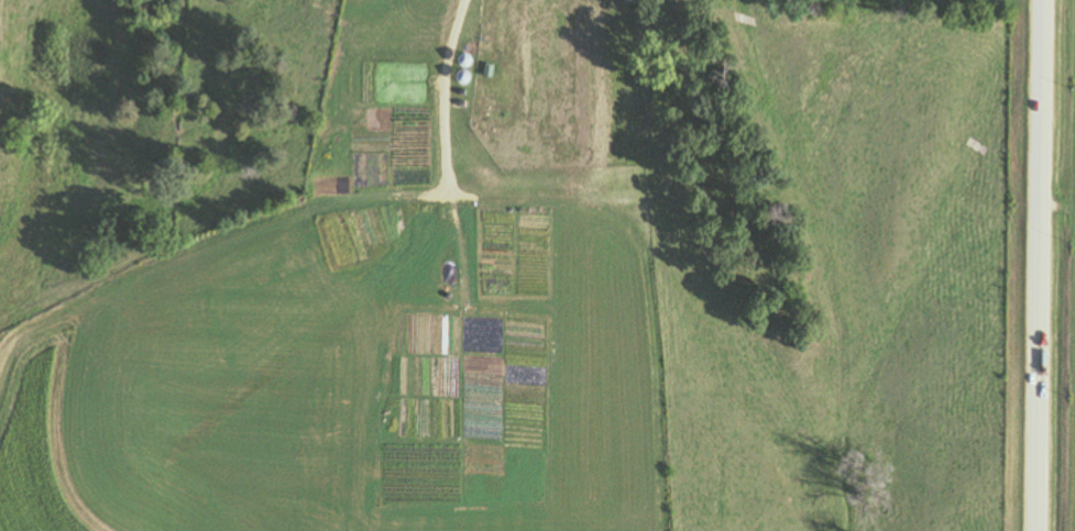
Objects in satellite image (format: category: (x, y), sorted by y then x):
road: (1038, 265)

